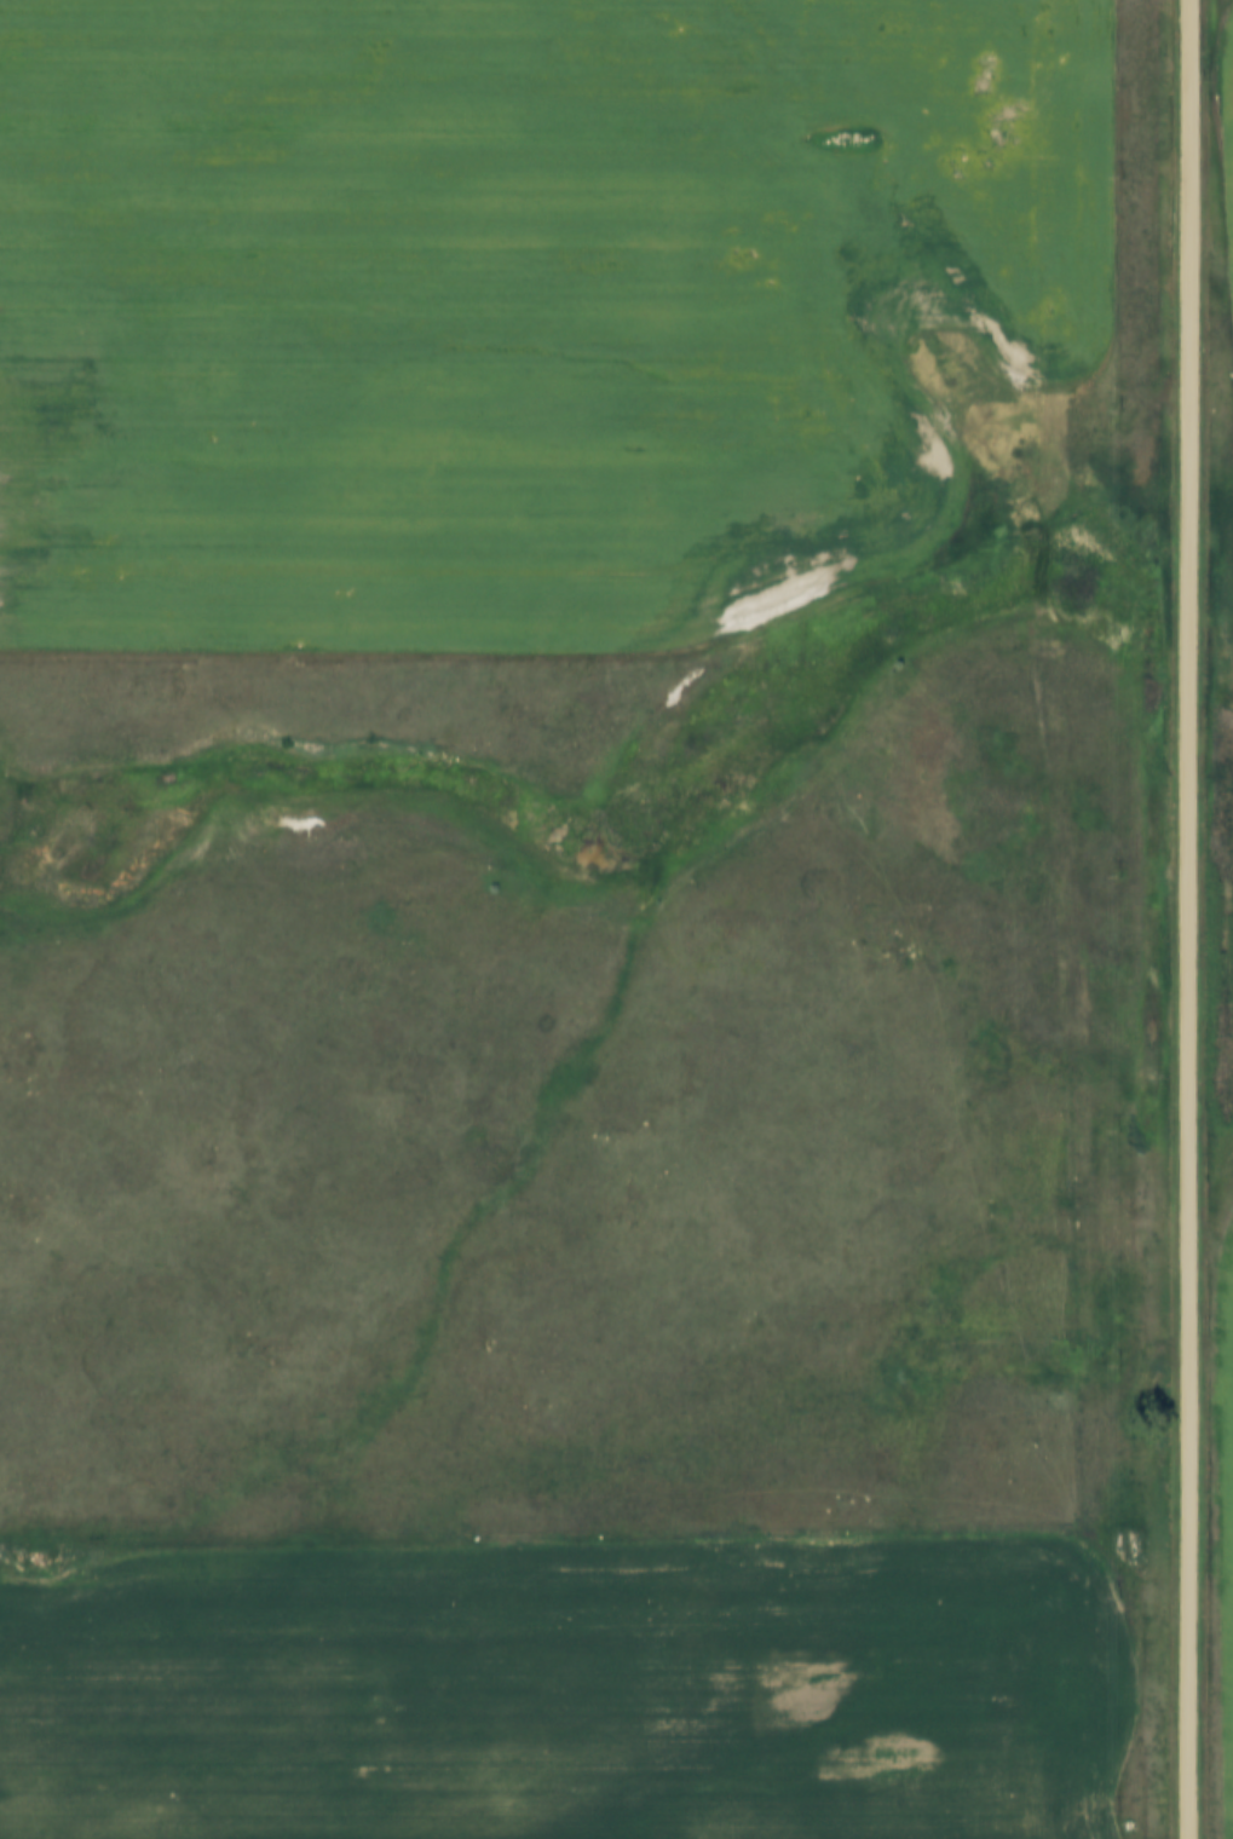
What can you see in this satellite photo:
road: (1189, 919)

